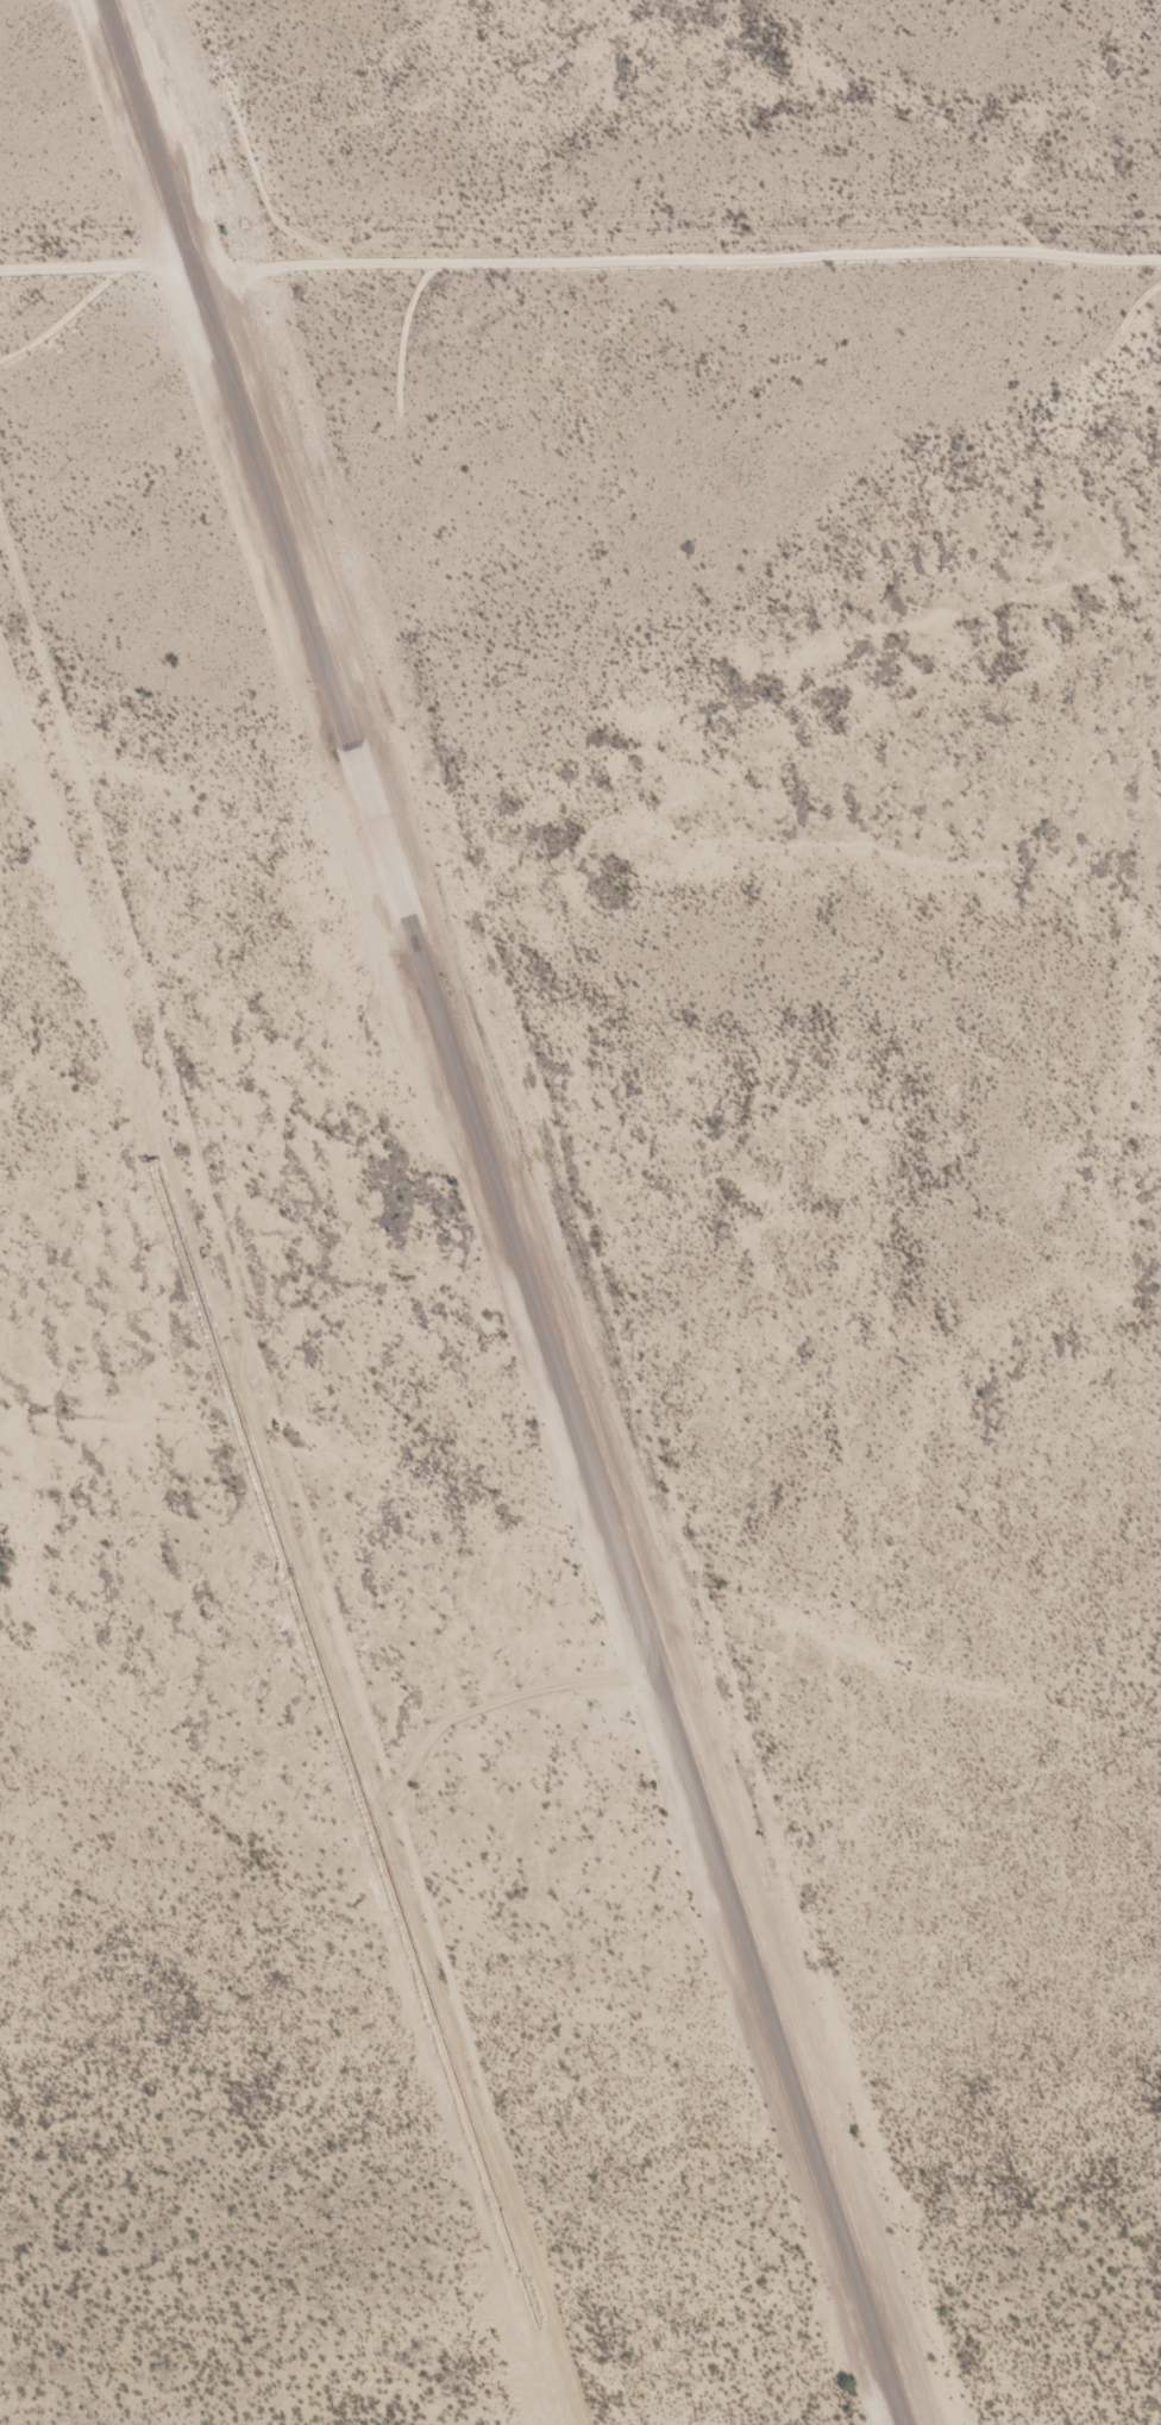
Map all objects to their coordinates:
road: (580, 253)
road: (512, 1212)

